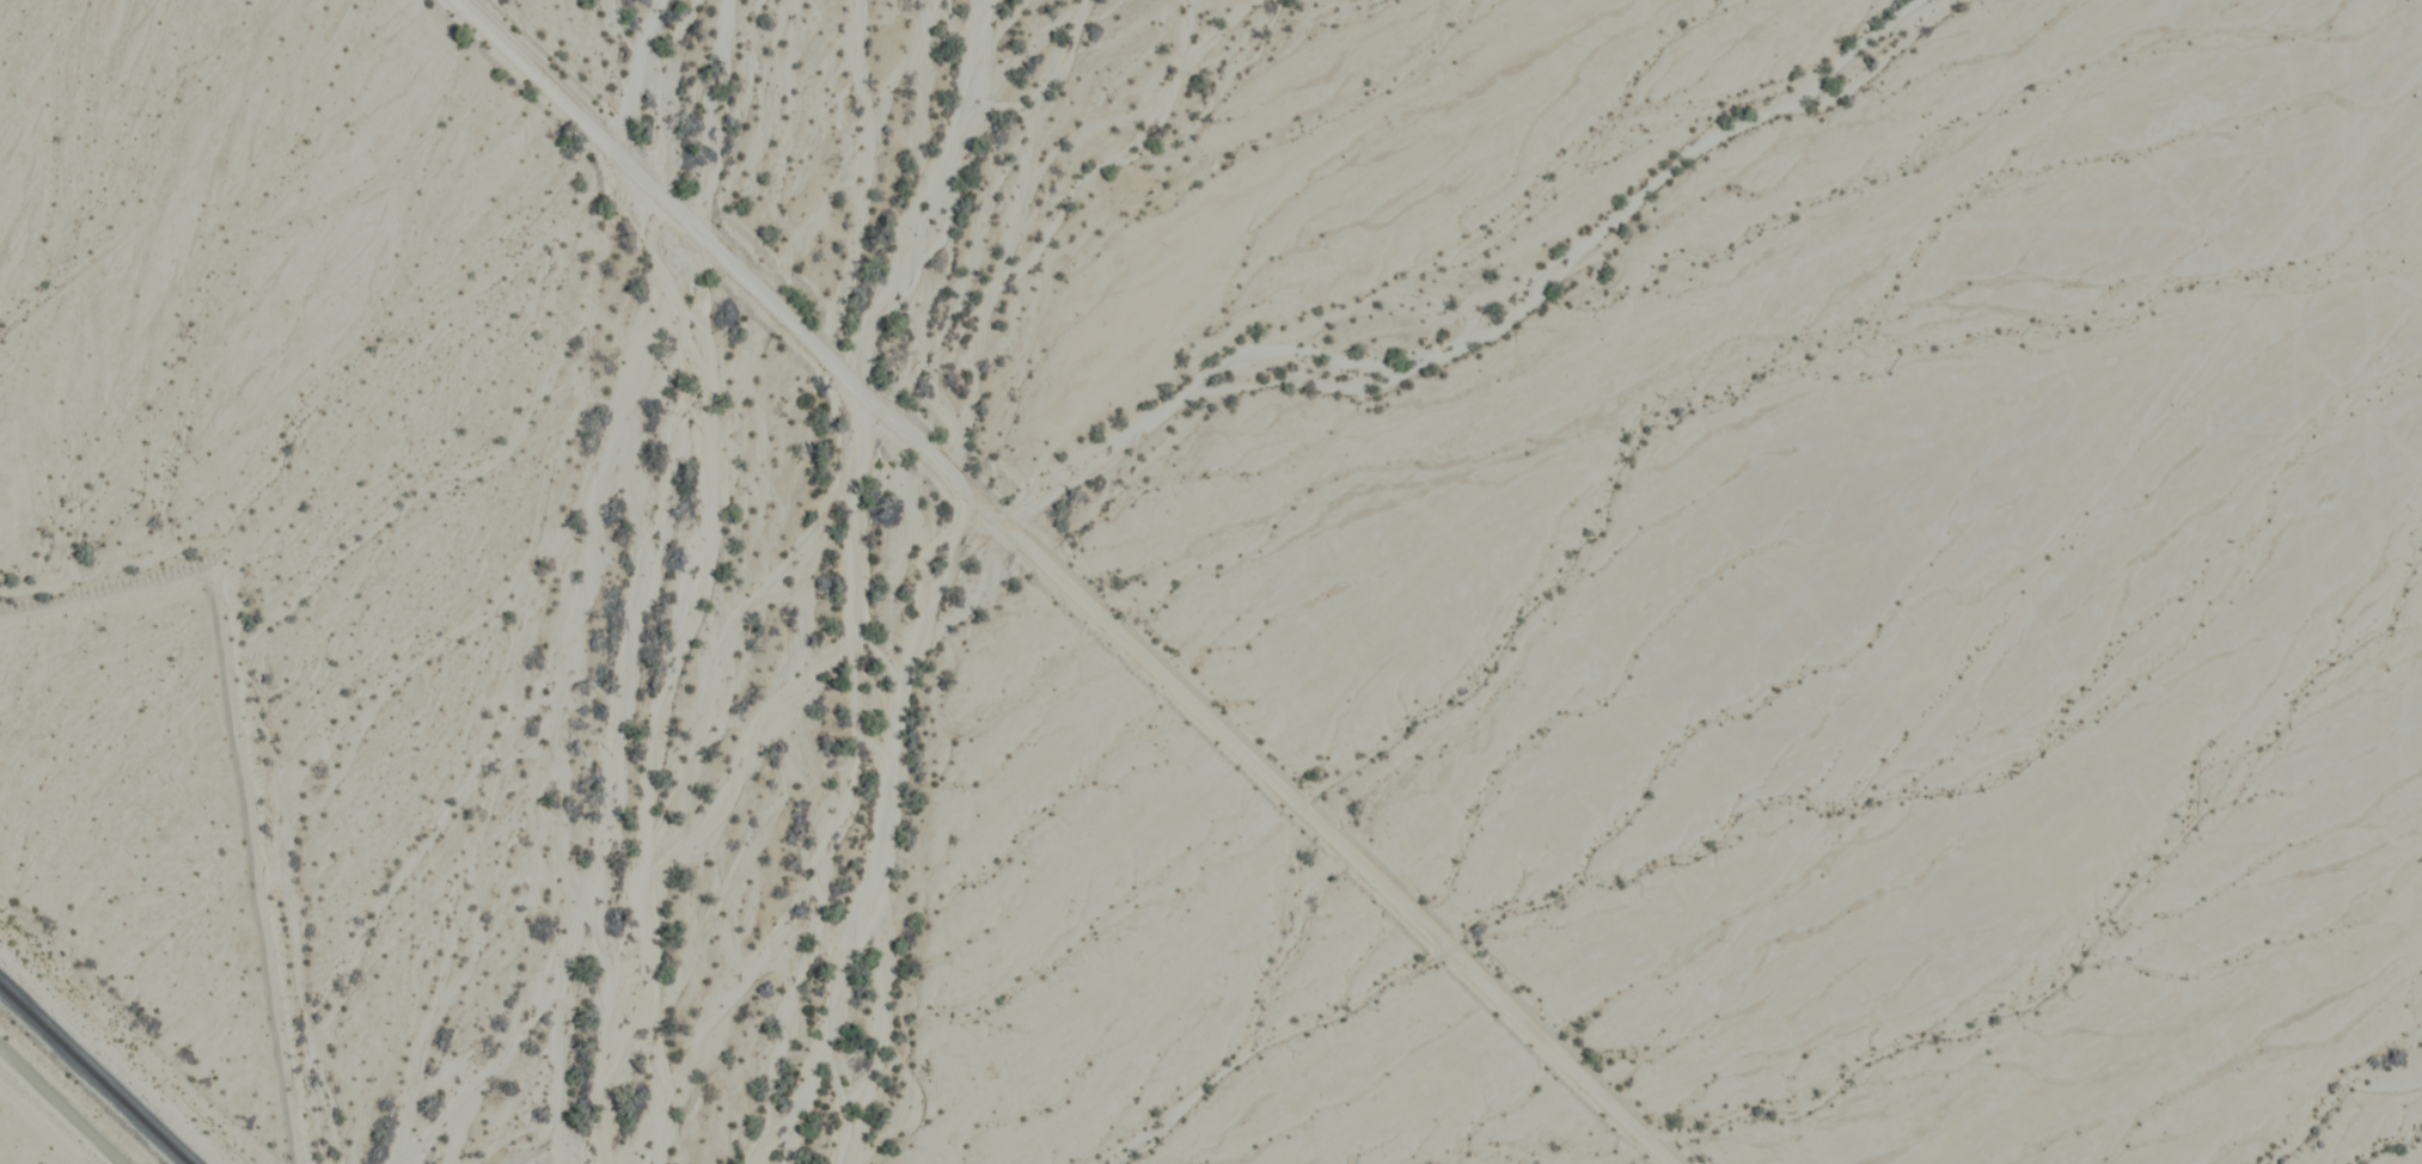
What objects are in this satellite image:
road: (1030, 586)
railway: (96, 1072)
road: (62, 1105)

